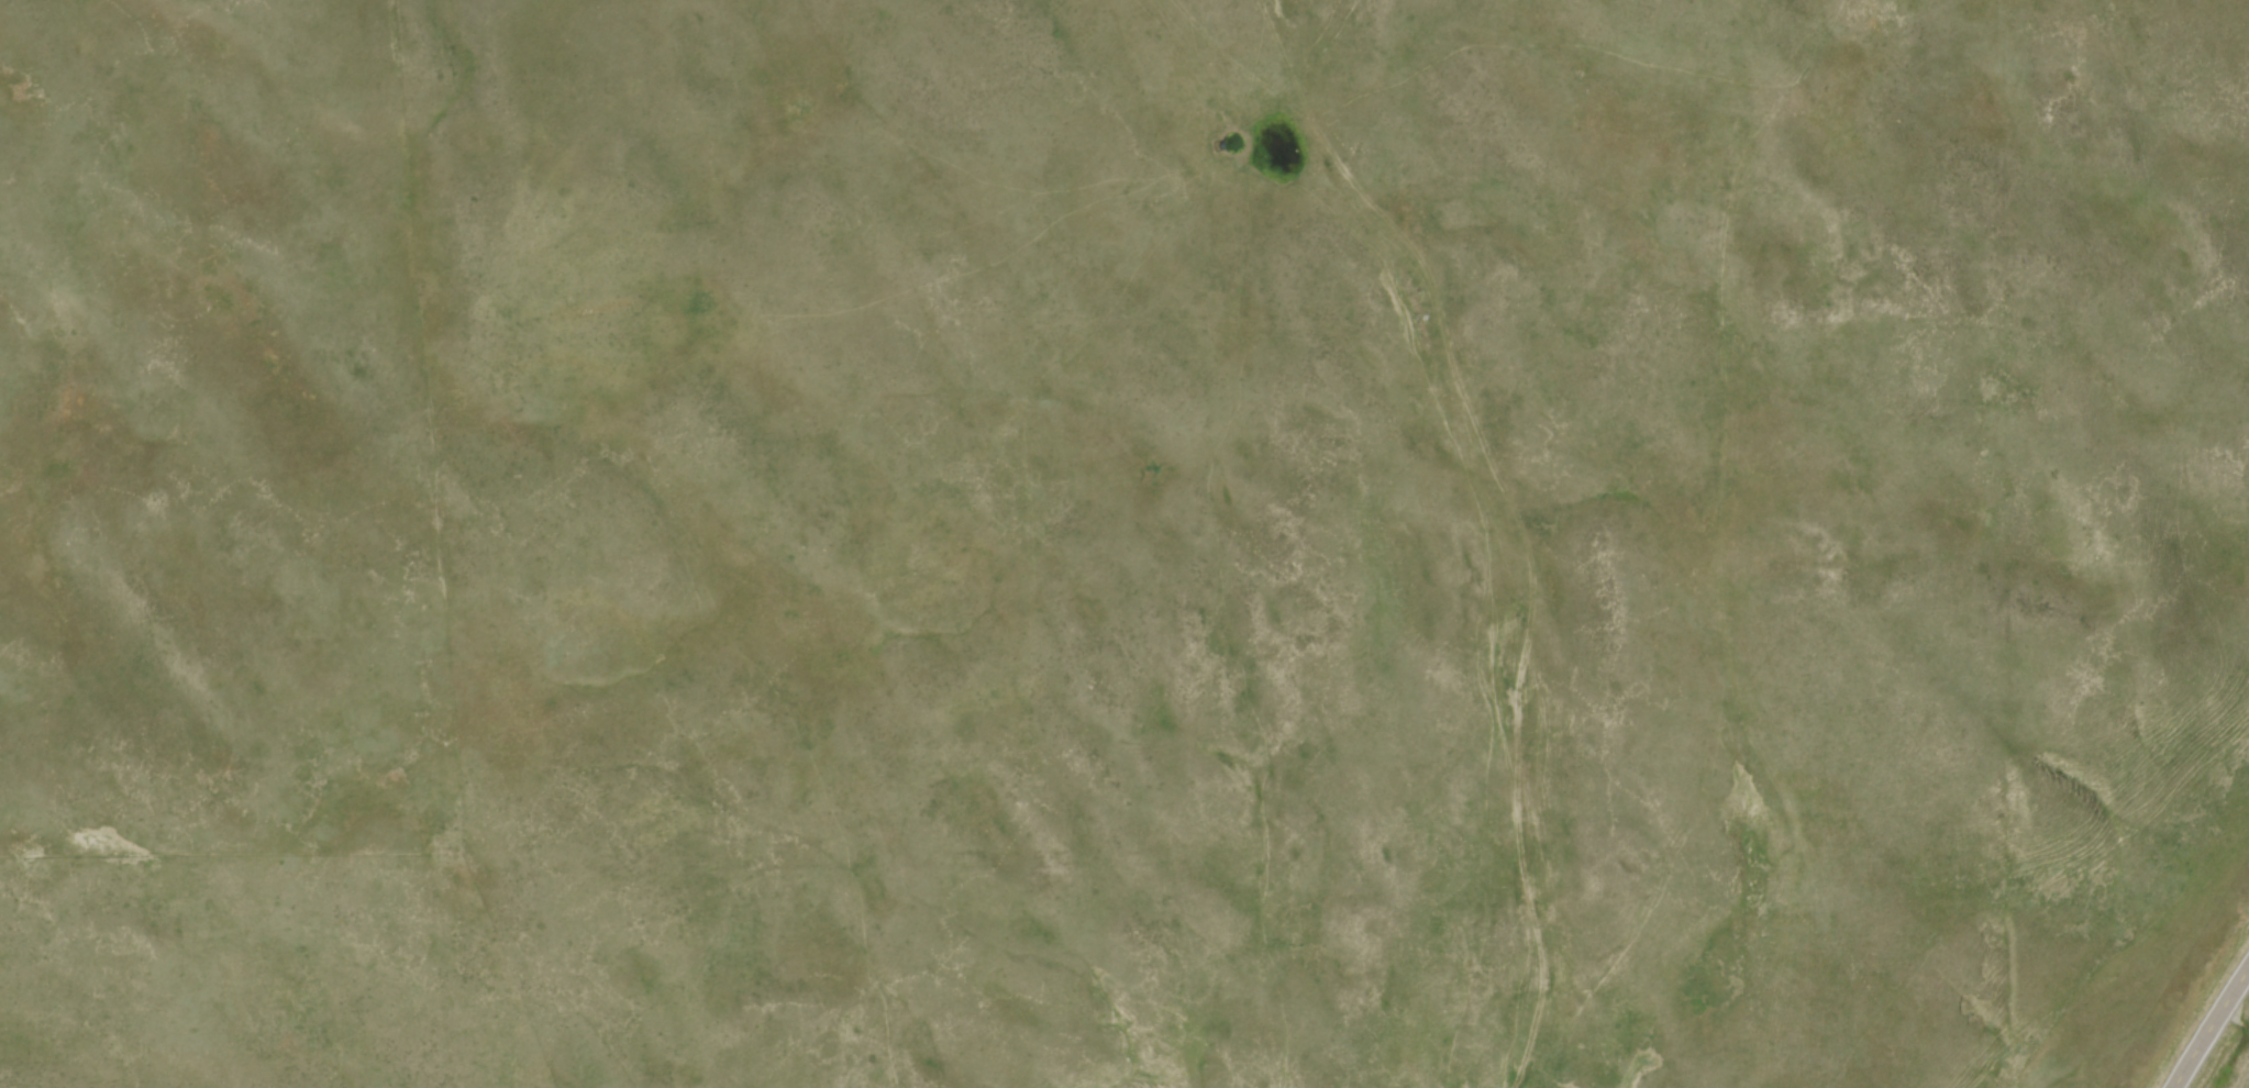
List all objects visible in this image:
road: (2215, 1033)

